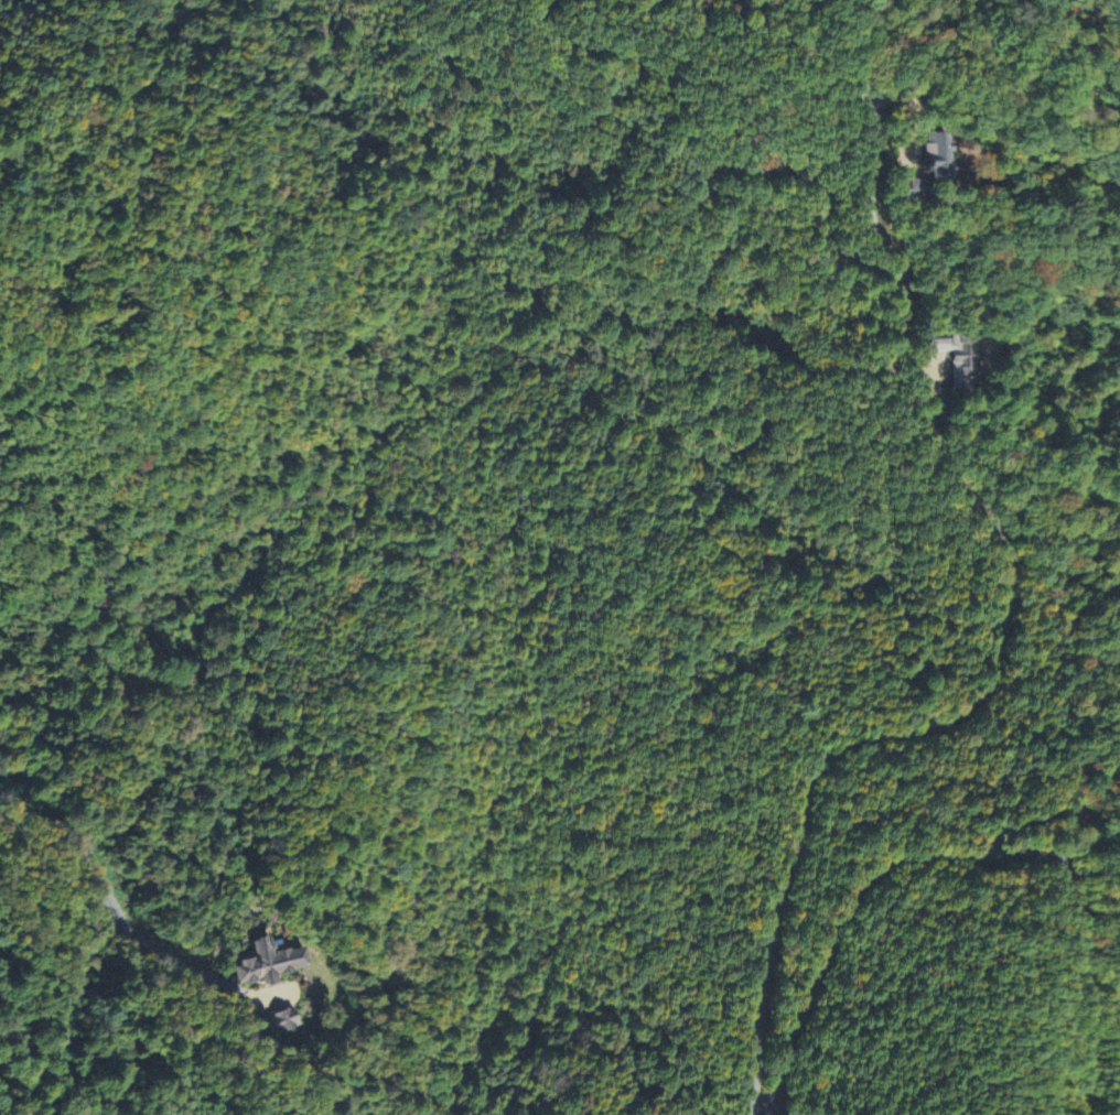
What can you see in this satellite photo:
road: (999, 649)
road: (959, 852)
building: (279, 965)
road: (46, 1076)

